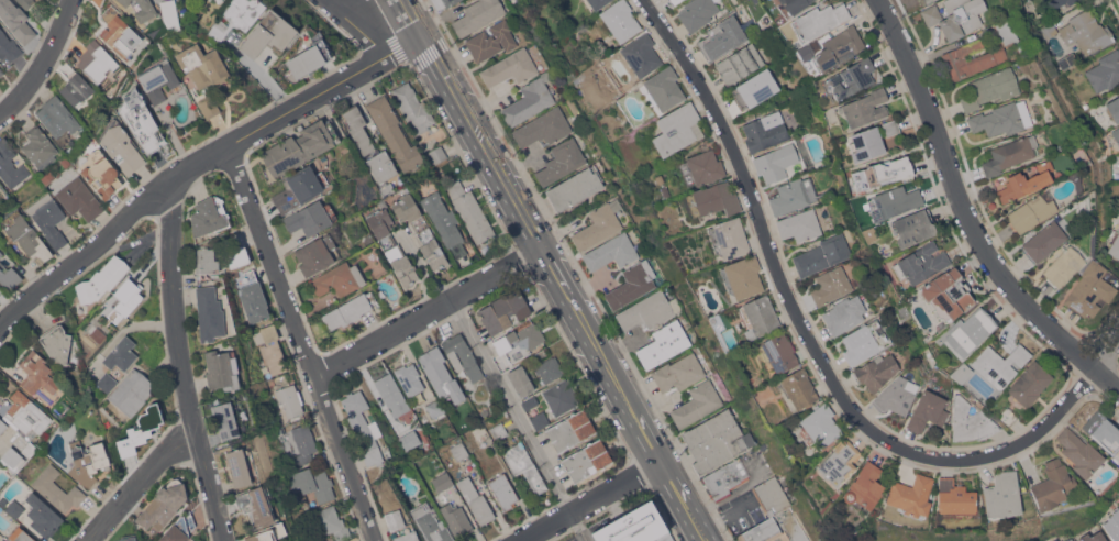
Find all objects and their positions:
building: (675, 1)
building: (1031, 1)
building: (26, 2)
building: (98, 2)
road: (344, 2)
building: (450, 2)
building: (1057, 2)
building: (597, 3)
park: (913, 4)
building: (794, 5)
building: (142, 9)
building: (169, 11)
building: (697, 12)
building: (477, 15)
building: (955, 16)
building: (235, 18)
building: (16, 20)
building: (621, 20)
building: (819, 20)
road: (357, 26)
building: (1048, 30)
building: (1086, 32)
building: (268, 34)
building: (1007, 34)
building: (121, 36)
building: (722, 37)
building: (492, 41)
building: (8, 46)
building: (839, 47)
building: (804, 52)
building: (641, 54)
building: (971, 58)
building: (310, 59)
building: (1067, 60)
road: (43, 62)
building: (98, 63)
building: (740, 64)
building: (203, 65)
building: (510, 68)
building: (1, 71)
building: (1105, 71)
building: (852, 77)
building: (158, 81)
building: (76, 88)
building: (663, 88)
building: (755, 88)
building: (989, 88)
building: (530, 100)
building: (569, 100)
building: (210, 107)
building: (865, 107)
building: (1114, 108)
building: (414, 110)
building: (56, 117)
building: (1001, 118)
building: (142, 121)
building: (890, 126)
building: (543, 128)
building: (358, 129)
building: (677, 129)
building: (765, 131)
building: (394, 133)
building: (1116, 134)
building: (866, 143)
building: (121, 145)
building: (302, 145)
building: (40, 147)
building: (1009, 153)
building: (437, 154)
building: (561, 161)
building: (776, 162)
building: (10, 165)
road: (197, 166)
building: (381, 166)
building: (700, 167)
building: (882, 172)
building: (103, 177)
building: (1024, 181)
building: (299, 188)
building: (574, 188)
building: (0, 189)
building: (387, 189)
building: (793, 195)
building: (79, 198)
building: (712, 199)
building: (894, 201)
building: (470, 211)
building: (1031, 211)
road: (967, 214)
building: (209, 216)
building: (308, 218)
building: (48, 219)
building: (443, 221)
building: (598, 224)
building: (799, 224)
building: (381, 227)
building: (912, 227)
building: (421, 231)
building: (871, 234)
building: (29, 239)
building: (729, 239)
building: (1043, 241)
building: (1115, 247)
building: (611, 252)
building: (1, 253)
building: (236, 254)
building: (315, 254)
building: (821, 254)
building: (206, 261)
building: (920, 263)
building: (1064, 264)
building: (401, 265)
building: (695, 268)
road: (554, 269)
building: (9, 276)
building: (743, 276)
building: (339, 279)
building: (101, 280)
building: (632, 284)
building: (830, 286)
building: (1089, 289)
building: (946, 294)
building: (125, 299)
building: (254, 301)
building: (348, 310)
building: (649, 310)
building: (503, 311)
building: (209, 313)
road: (430, 313)
building: (843, 313)
building: (760, 314)
building: (939, 325)
building: (970, 331)
road: (810, 336)
building: (519, 341)
building: (934, 341)
road: (303, 343)
building: (664, 343)
building: (861, 343)
building: (57, 344)
building: (272, 349)
road: (1106, 351)
building: (778, 352)
building: (121, 353)
building: (462, 356)
road: (181, 363)
building: (999, 364)
building: (549, 368)
building: (221, 369)
building: (35, 371)
building: (875, 371)
building: (678, 372)
building: (961, 372)
building: (441, 374)
building: (409, 378)
building: (520, 380)
building: (107, 382)
building: (930, 382)
building: (1029, 383)
building: (798, 388)
building: (132, 391)
building: (392, 394)
building: (896, 396)
building: (561, 397)
building: (290, 399)
building: (530, 402)
building: (697, 404)
building: (435, 407)
building: (927, 411)
building: (26, 413)
building: (1007, 415)
road: (520, 420)
building: (540, 420)
building: (225, 421)
building: (970, 421)
building: (145, 424)
building: (820, 424)
building: (2, 426)
building: (364, 428)
building: (498, 430)
building: (570, 430)
building: (1103, 431)
building: (45, 434)
building: (410, 440)
building: (716, 440)
building: (21, 441)
building: (303, 443)
building: (29, 449)
building: (120, 450)
building: (459, 451)
building: (1079, 453)
building: (12, 457)
building: (587, 460)
building: (87, 462)
building: (838, 462)
building: (524, 466)
building: (239, 467)
building: (725, 477)
building: (443, 482)
building: (313, 483)
road: (140, 484)
building: (1052, 485)
building: (864, 486)
building: (57, 488)
building: (503, 490)
building: (772, 495)
building: (910, 495)
building: (1001, 495)
building: (954, 497)
building: (476, 500)
building: (3, 501)
road: (589, 501)
building: (163, 505)
building: (256, 505)
building: (15, 508)
building: (43, 515)
building: (394, 518)
building: (456, 519)
building: (331, 522)
building: (431, 523)
building: (1112, 523)
building: (634, 526)
building: (179, 529)
building: (777, 529)
building: (268, 532)
building: (21, 534)
building: (408, 537)
building: (1093, 537)
building: (129, 538)
building: (37, 540)
building: (1054, 540)
building: (1068, 540)

